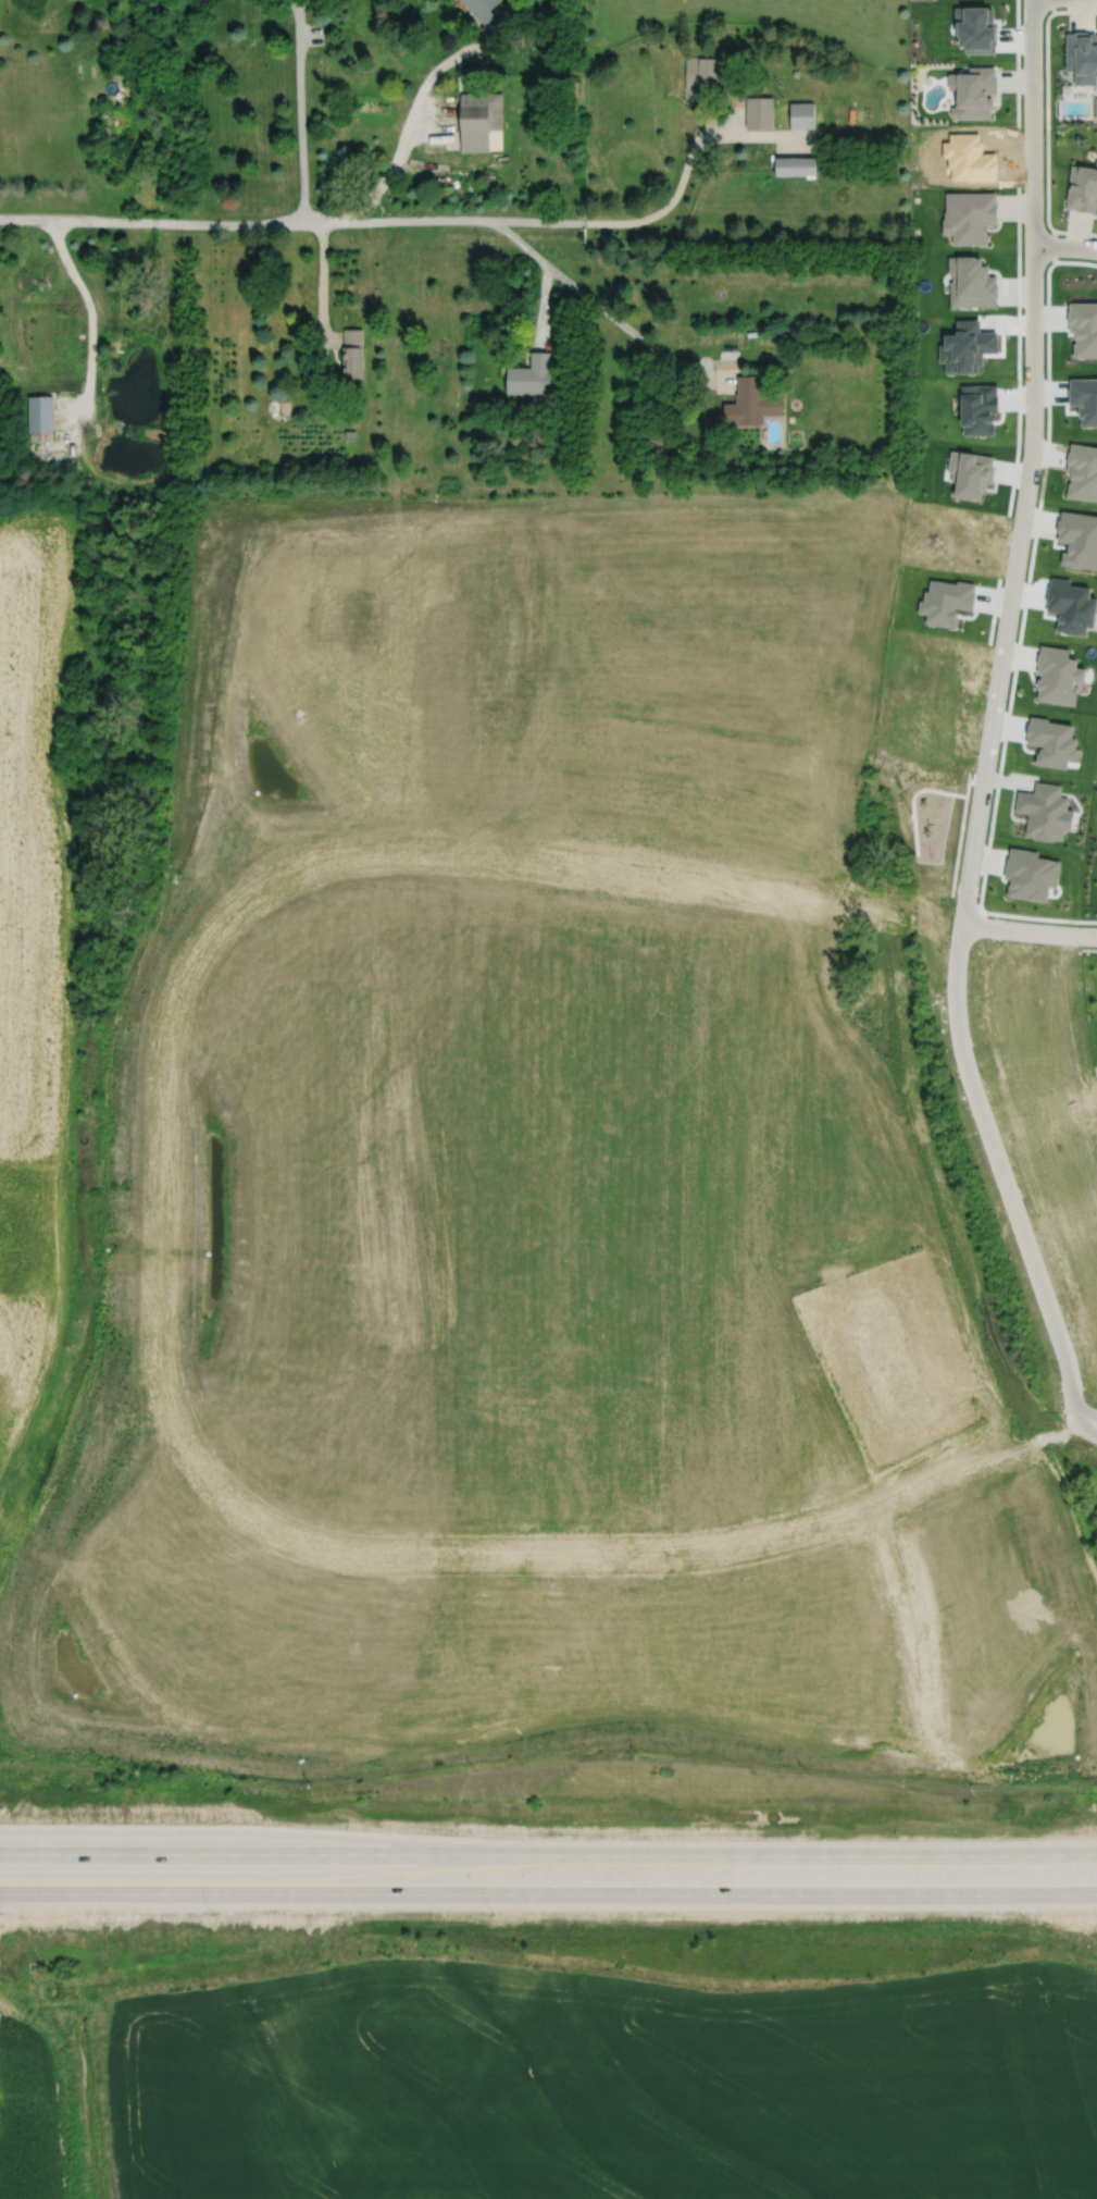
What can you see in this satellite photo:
building: (481, 5)
building: (497, 22)
building: (1081, 54)
building: (705, 73)
building: (974, 89)
park: (1096, 108)
road: (299, 110)
building: (758, 111)
building: (801, 113)
building: (481, 120)
road: (1047, 120)
road: (407, 125)
building: (795, 164)
building: (1082, 186)
building: (969, 214)
road: (429, 219)
road: (1064, 246)
road: (322, 280)
building: (972, 282)
road: (586, 296)
road: (541, 304)
road: (91, 319)
building: (352, 353)
building: (532, 374)
building: (752, 401)
building: (39, 412)
building: (350, 433)
building: (1082, 471)
building: (201, 486)
building: (1077, 538)
road: (990, 727)
building: (1042, 810)
road: (583, 866)
road: (1029, 930)
road: (82, 1177)
road: (164, 1204)
road: (1085, 1416)
road: (1085, 1436)
road: (658, 1547)
road: (926, 1670)
road: (903, 1675)
street lamp: (104, 1814)
street lamp: (336, 1820)
road: (201, 1851)
road: (750, 1852)
road: (548, 1892)
street lamp: (211, 1913)
street lamp: (491, 1914)

